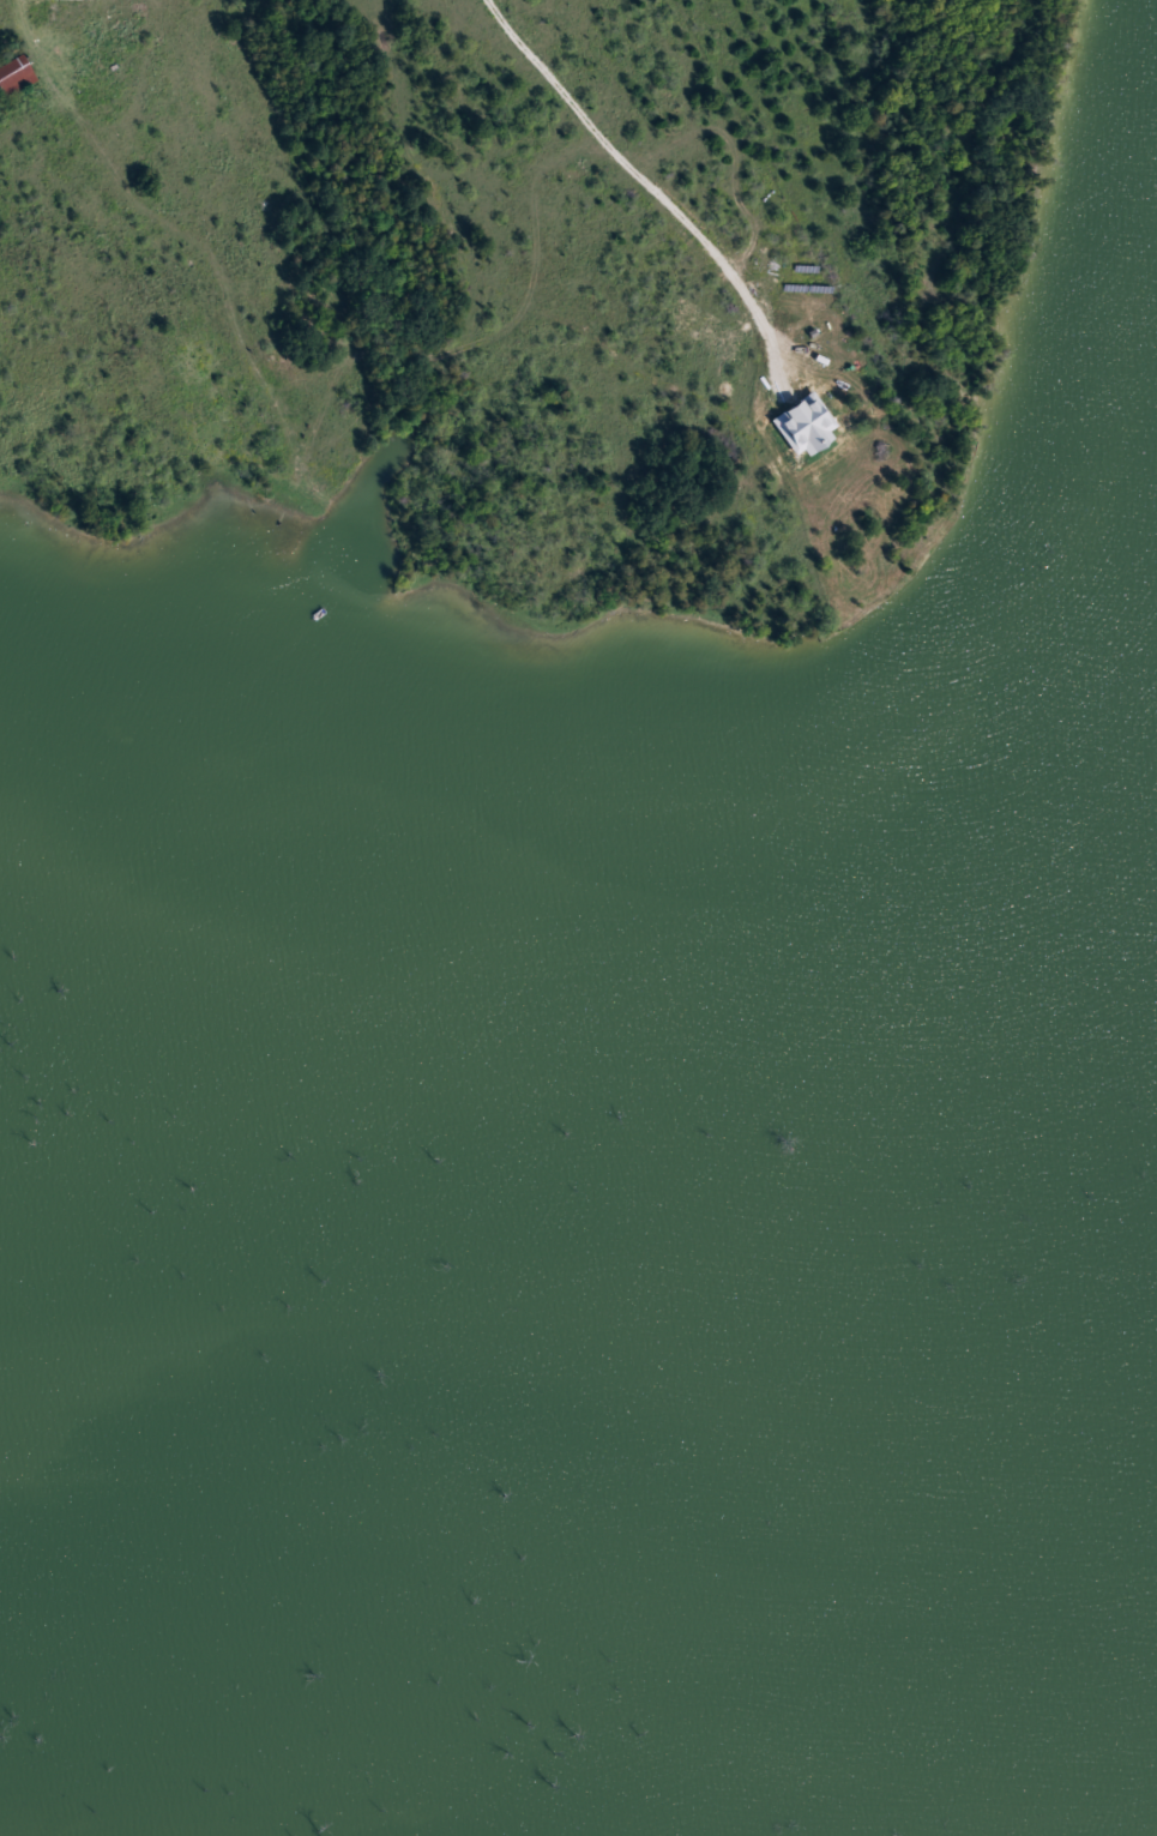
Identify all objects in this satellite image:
building: (16, 76)

